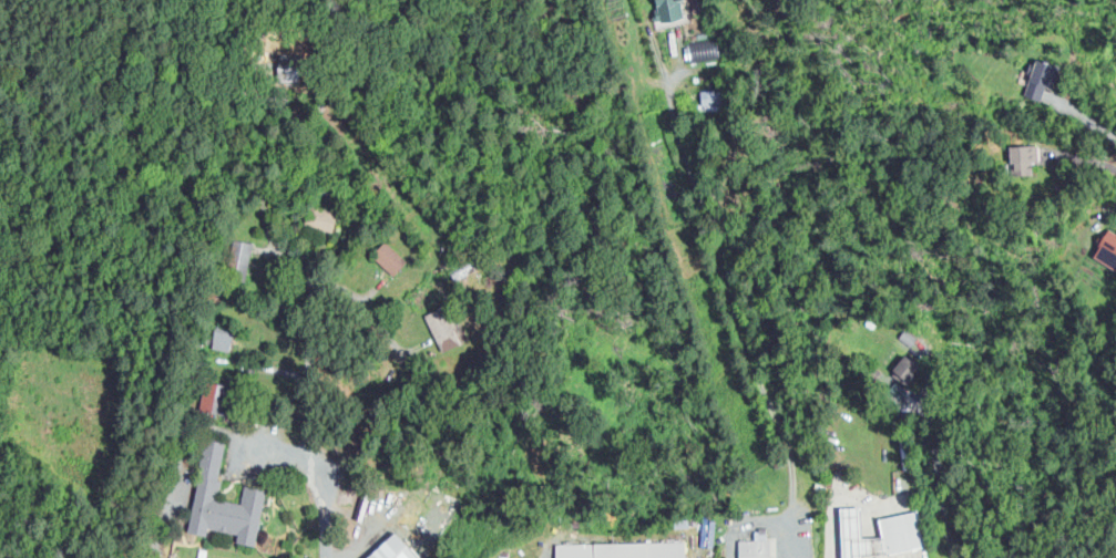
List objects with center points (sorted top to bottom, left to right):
building: (666, 10)
building: (703, 48)
building: (1038, 80)
building: (715, 92)
road: (1081, 157)
building: (1023, 158)
road: (267, 180)
building: (1107, 249)
building: (240, 257)
building: (389, 258)
road: (358, 308)
road: (736, 320)
building: (441, 329)
building: (223, 338)
road: (314, 352)
building: (907, 370)
building: (209, 395)
road: (188, 424)
road: (940, 476)
road: (317, 484)
building: (223, 502)
building: (411, 512)
building: (899, 529)
gas station: (899, 529)
building: (391, 549)
building: (751, 549)
building: (622, 550)

